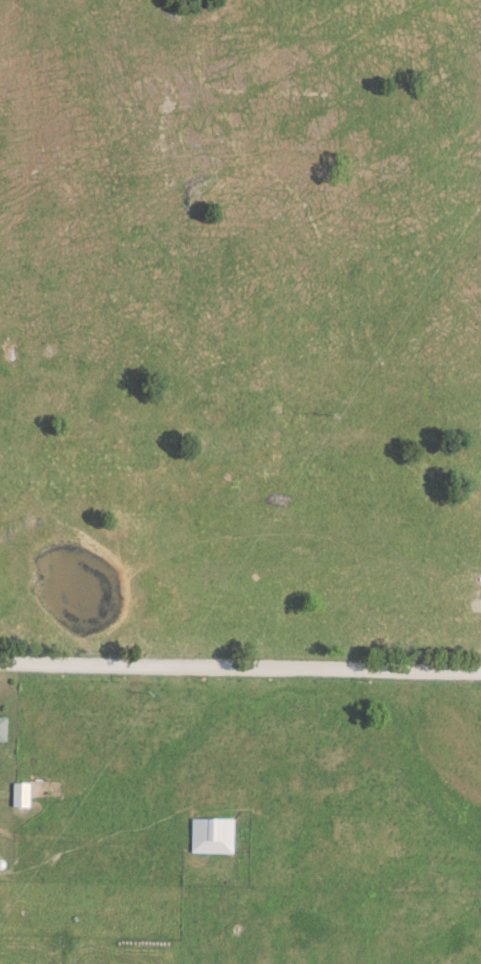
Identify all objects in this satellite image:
road: (240, 663)
building: (1, 725)
building: (20, 792)
building: (210, 833)

